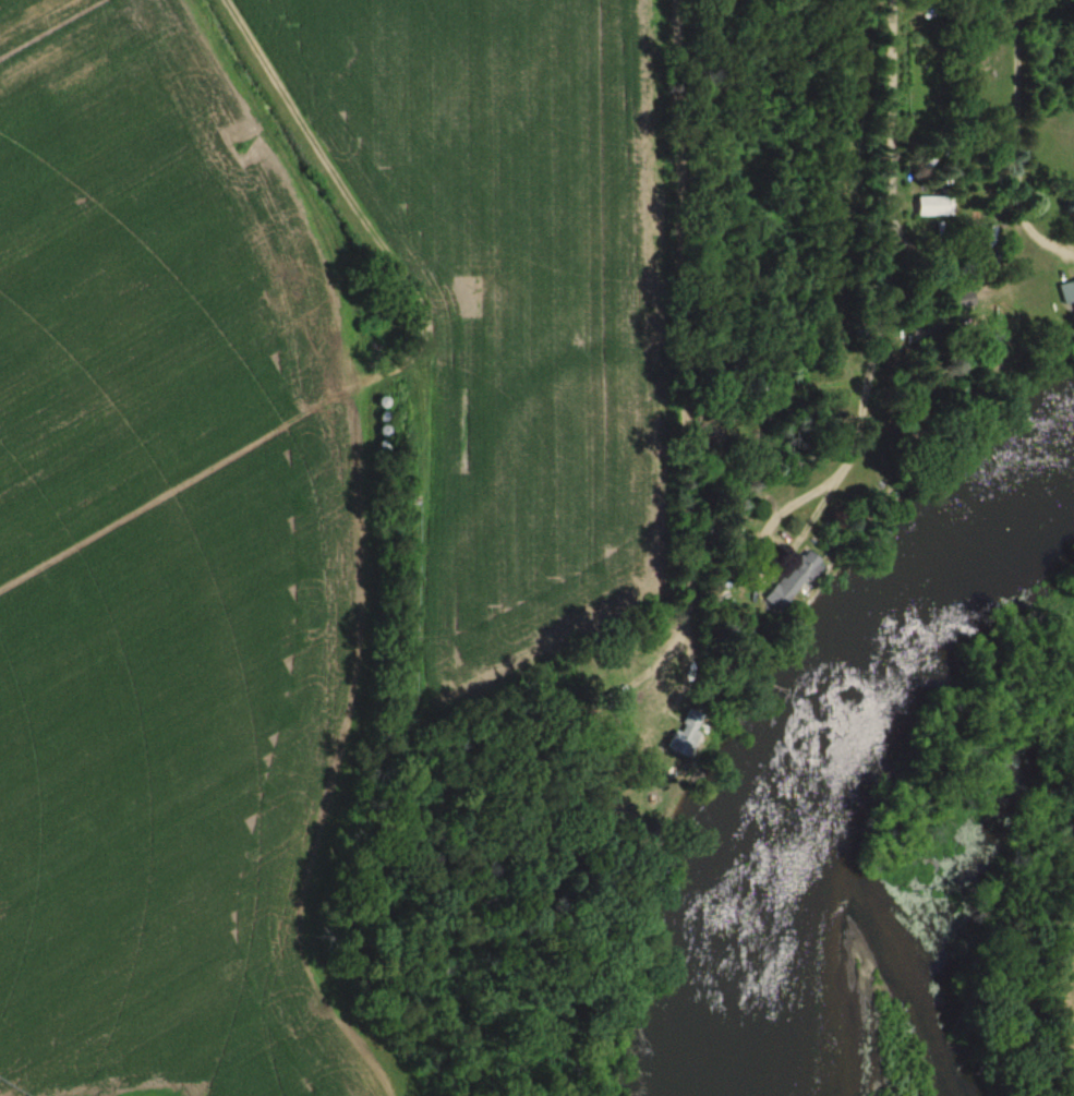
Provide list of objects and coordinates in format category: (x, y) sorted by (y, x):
road: (1015, 141)
building: (933, 206)
road: (888, 234)
road: (675, 288)
building: (1066, 293)
building: (963, 303)
building: (791, 581)
river: (841, 742)

